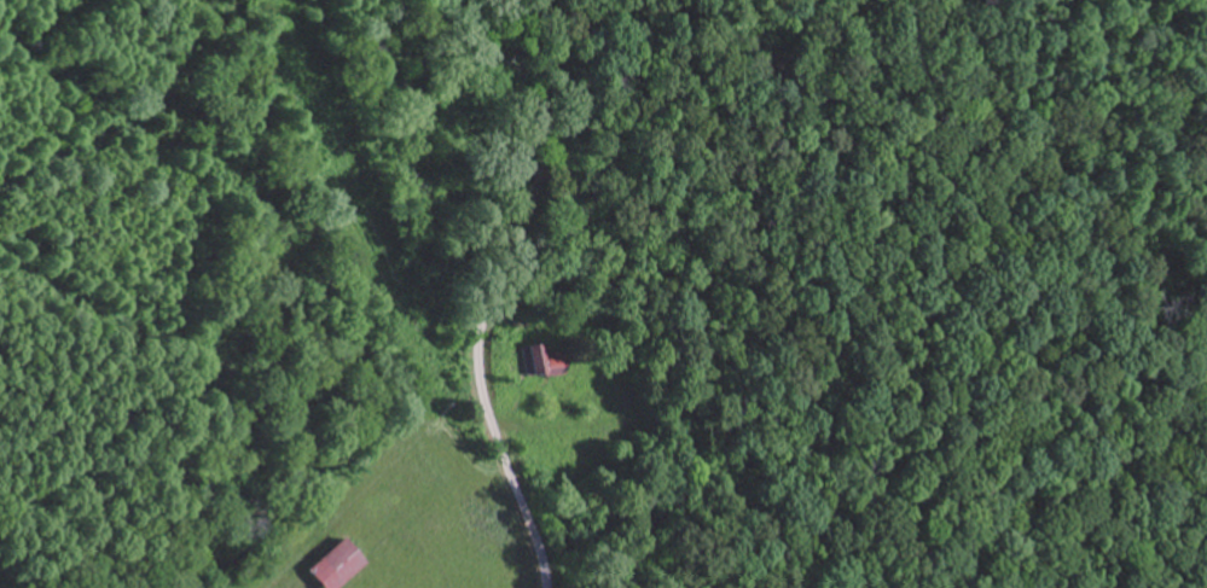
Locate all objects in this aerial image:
road: (495, 291)
building: (545, 359)
building: (329, 566)

